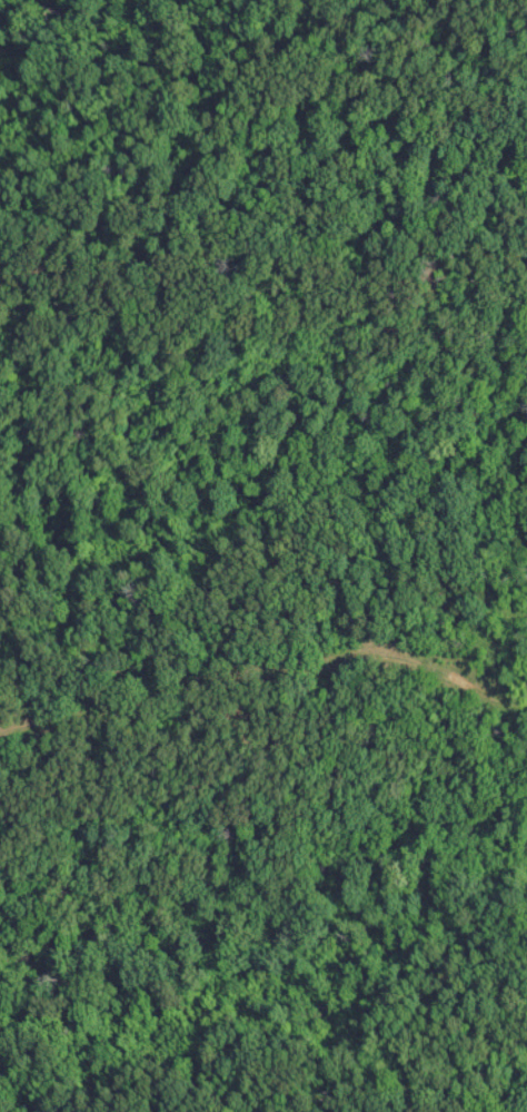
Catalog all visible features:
road: (260, 725)

